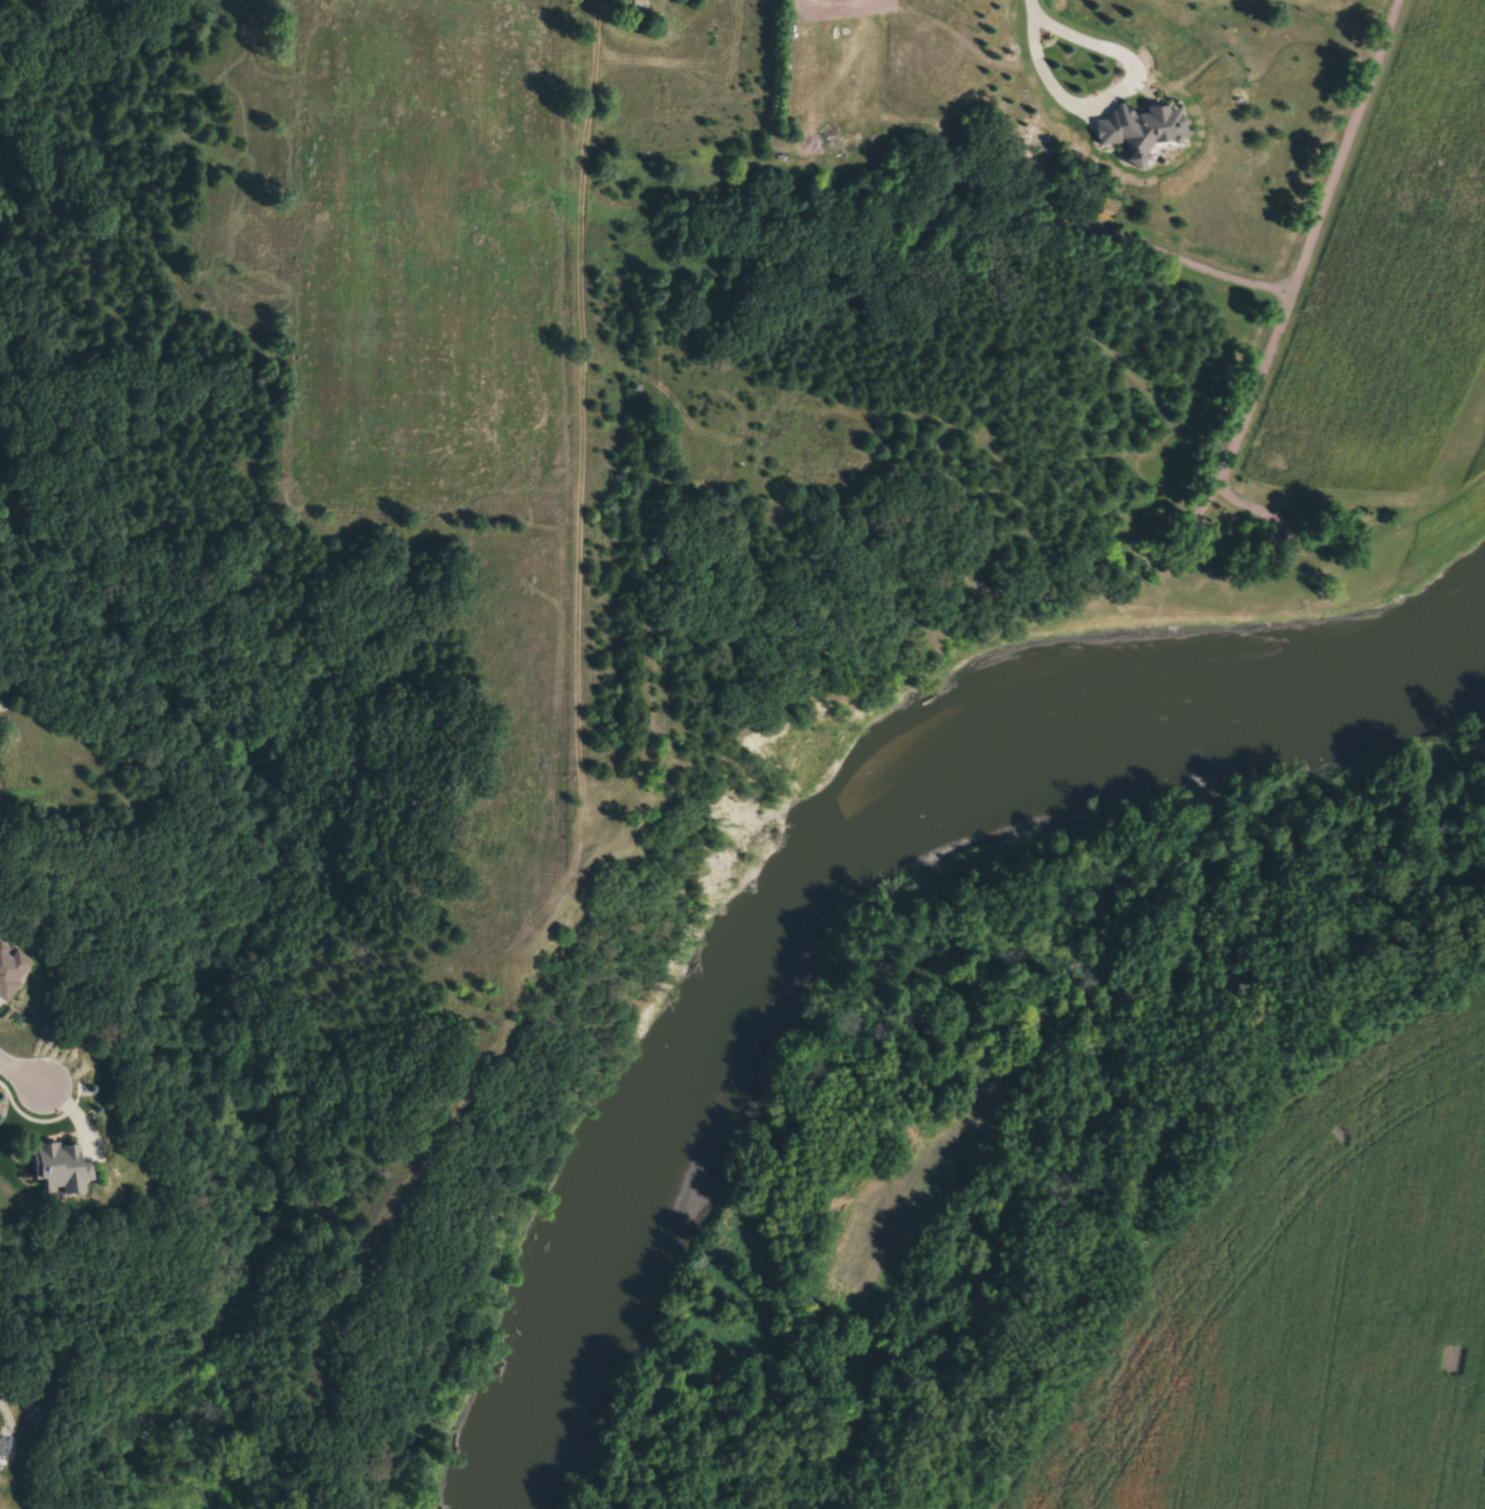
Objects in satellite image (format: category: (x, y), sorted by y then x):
building: (641, 5)
road: (1030, 5)
road: (1113, 92)
river: (807, 852)
building: (9, 973)
road: (23, 1073)
building: (62, 1167)
building: (3, 1436)
building: (1, 1461)

